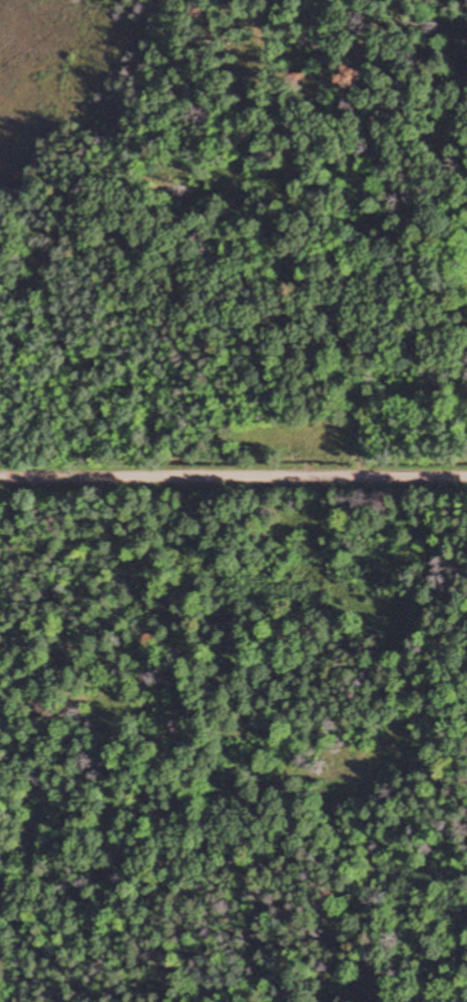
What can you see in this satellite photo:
road: (233, 475)

